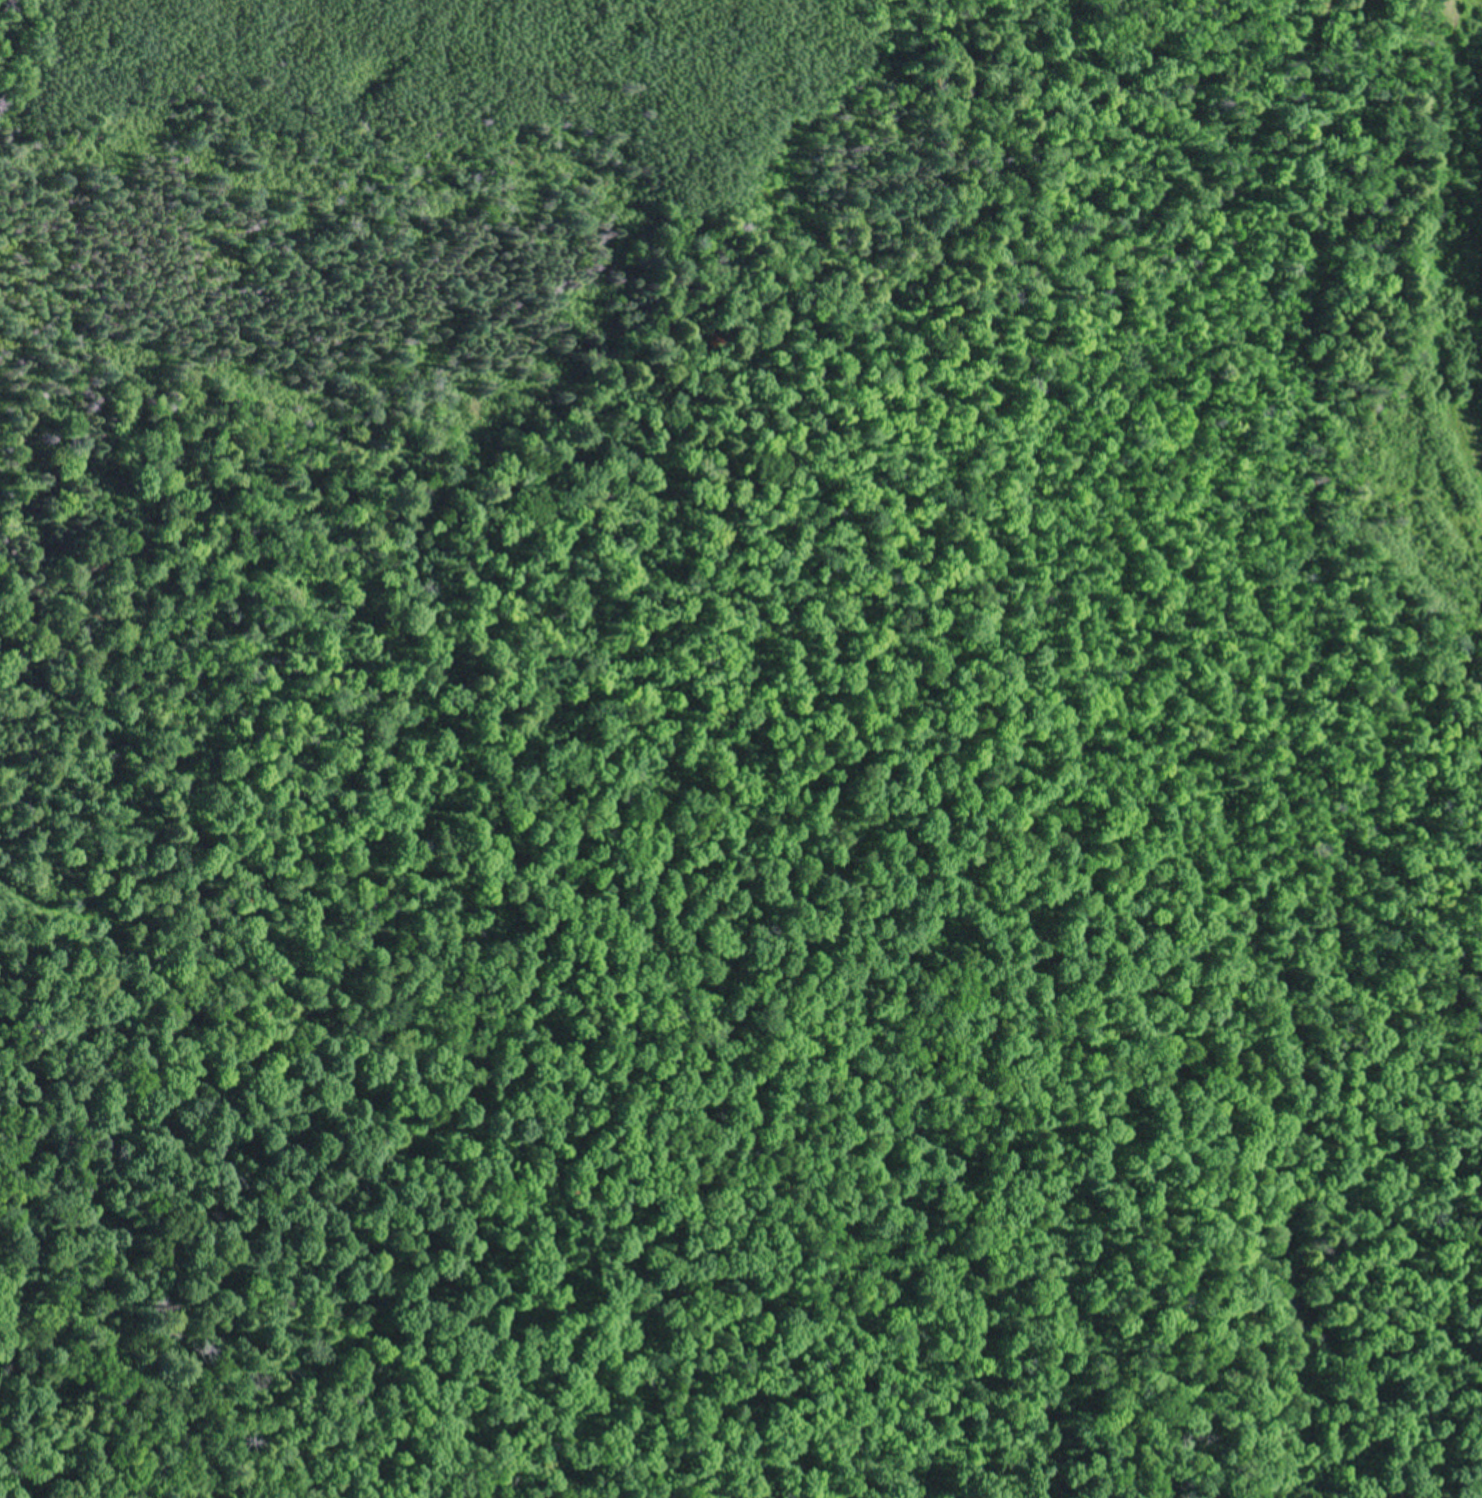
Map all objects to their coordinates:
road: (1451, 233)

